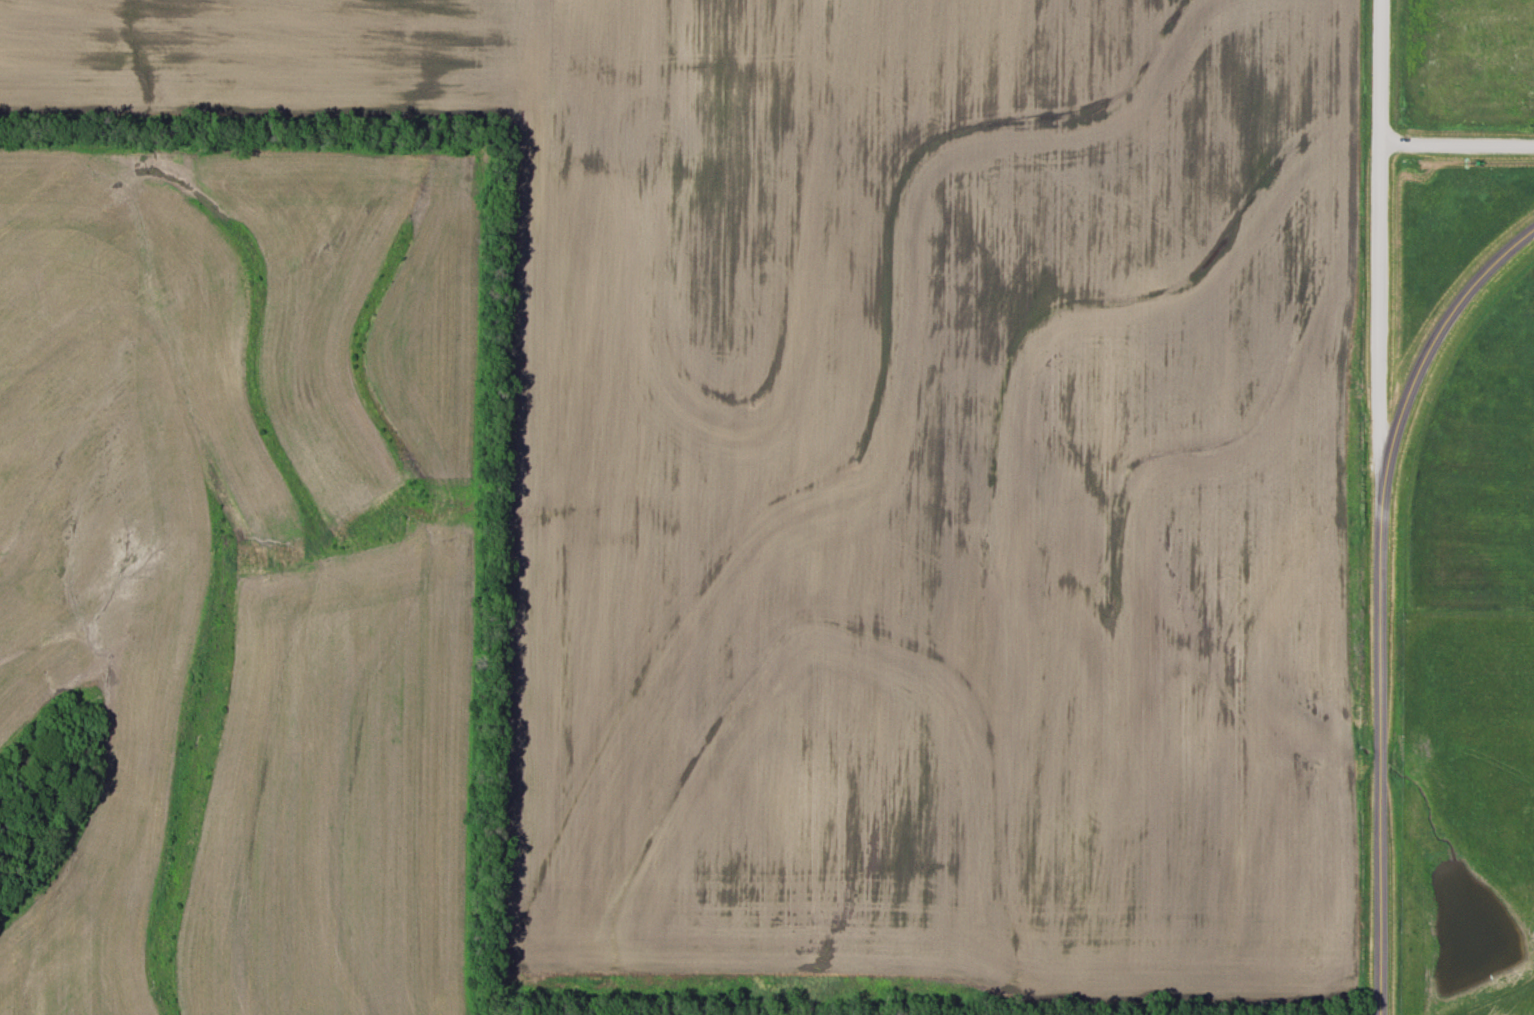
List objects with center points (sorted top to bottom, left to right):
road: (1455, 145)
road: (1376, 242)
road: (1433, 340)
crop: (887, 460)
road: (1379, 749)

